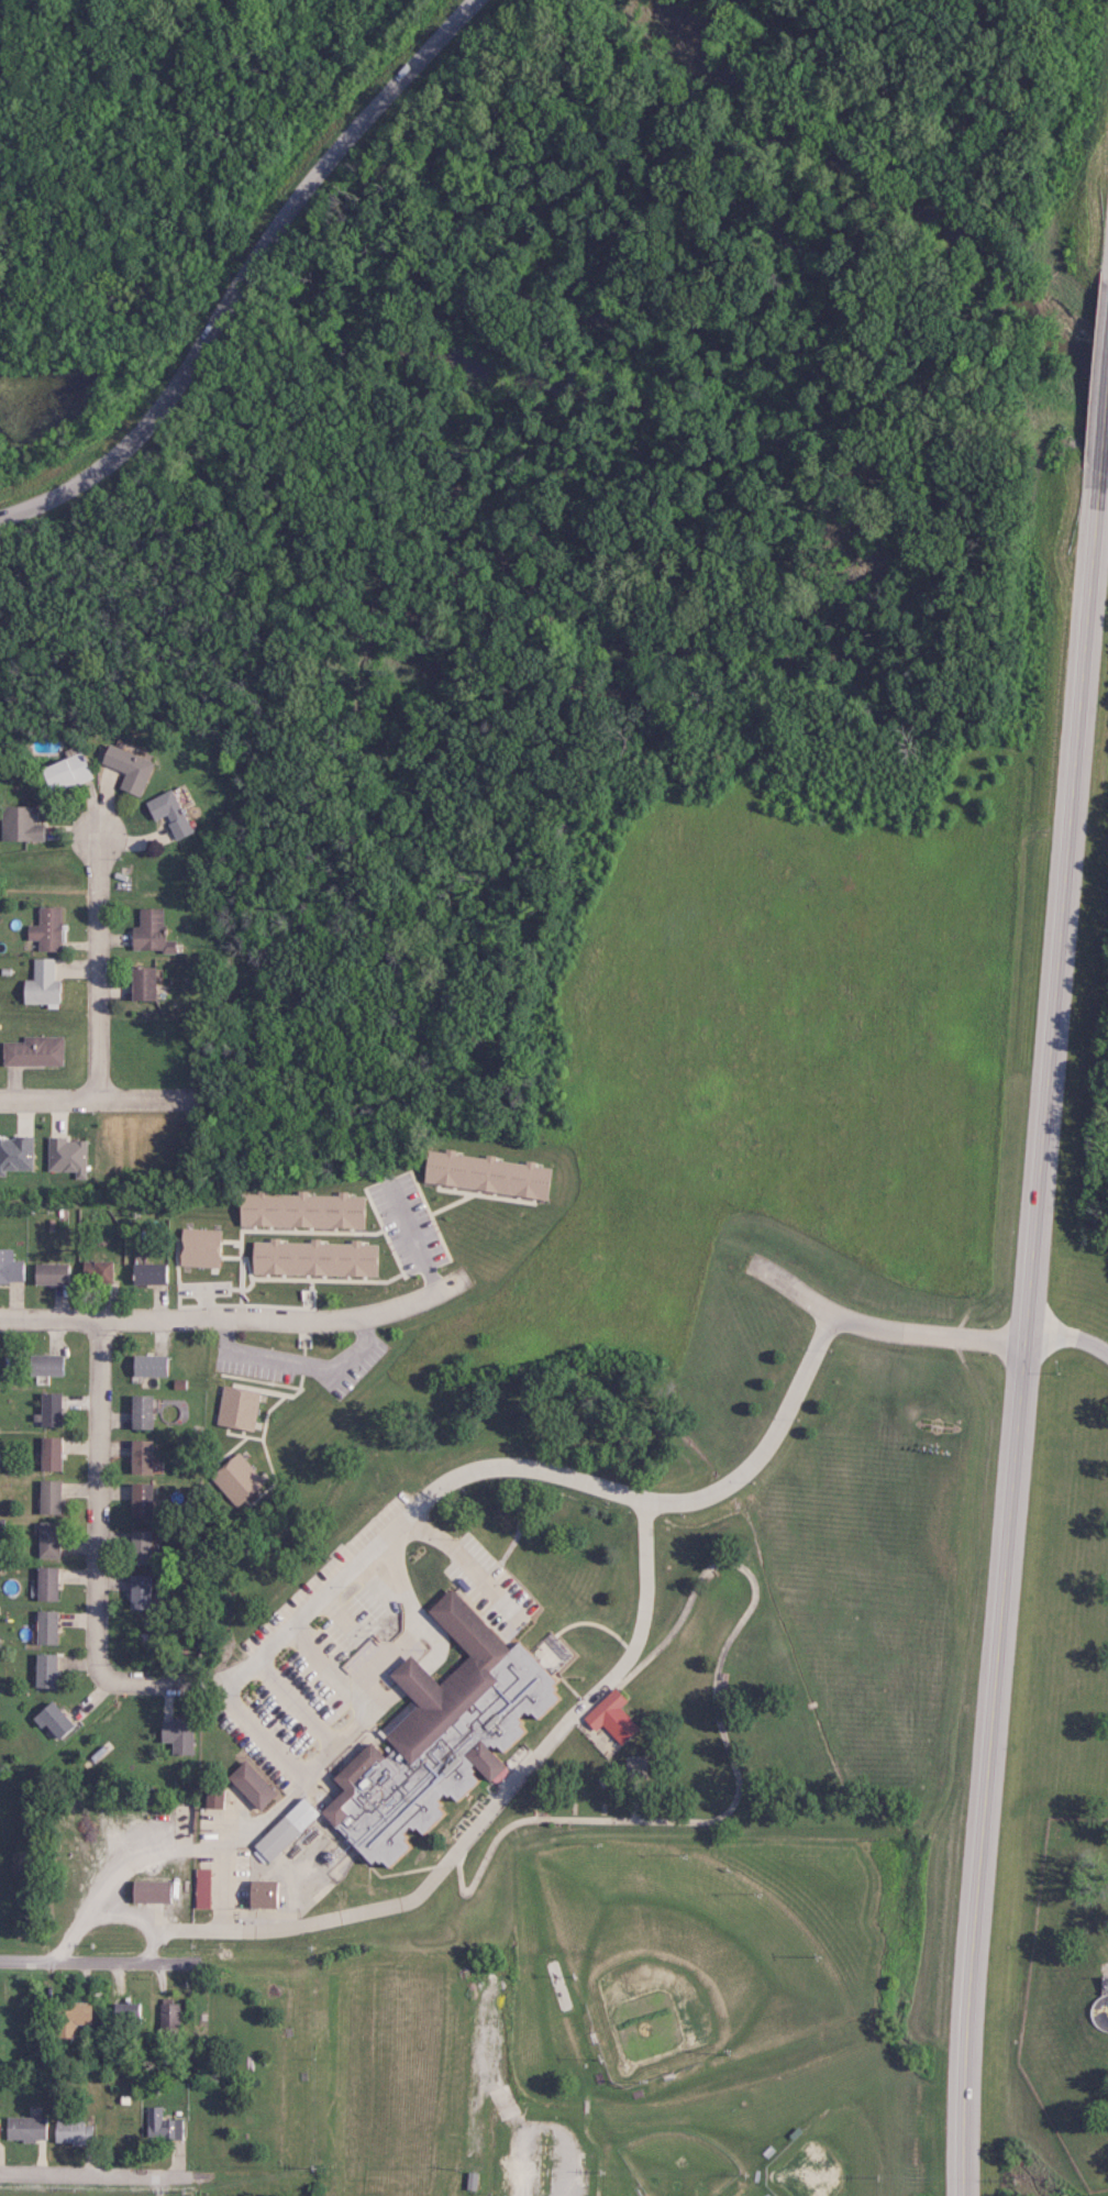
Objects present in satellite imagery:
road: (228, 268)
building: (128, 768)
building: (63, 772)
building: (168, 812)
building: (19, 823)
building: (45, 928)
building: (148, 930)
road: (95, 961)
building: (138, 982)
building: (41, 983)
building: (32, 1050)
road: (99, 1099)
building: (14, 1154)
building: (65, 1155)
building: (483, 1173)
building: (298, 1209)
building: (198, 1247)
building: (310, 1258)
road: (1031, 1258)
building: (10, 1268)
building: (96, 1270)
building: (49, 1273)
building: (145, 1273)
road: (224, 1310)
road: (233, 1322)
road: (883, 1332)
road: (1067, 1339)
building: (44, 1365)
building: (148, 1365)
building: (236, 1408)
building: (47, 1409)
building: (136, 1412)
building: (47, 1453)
building: (137, 1457)
road: (533, 1467)
building: (235, 1478)
road: (98, 1490)
building: (47, 1497)
building: (138, 1499)
building: (45, 1540)
building: (137, 1546)
road: (464, 1558)
building: (44, 1583)
building: (136, 1592)
road: (590, 1622)
building: (43, 1627)
building: (42, 1670)
road: (409, 1678)
road: (126, 1688)
building: (609, 1717)
building: (49, 1720)
building: (175, 1735)
building: (435, 1736)
road: (624, 1759)
wastewater plant: (1065, 1781)
building: (247, 1785)
building: (211, 1799)
road: (284, 1799)
road: (682, 1818)
road: (477, 1823)
building: (282, 1829)
building: (201, 1888)
building: (149, 1891)
building: (261, 1894)
road: (90, 1961)
park: (680, 1961)
building: (125, 2015)
building: (167, 2017)
building: (68, 2018)
park: (633, 2027)
building: (0, 2122)
building: (164, 2123)
building: (27, 2128)
building: (73, 2131)
road: (591, 2138)
park: (827, 2154)
park: (678, 2158)
parking lot: (533, 2162)
road: (517, 2170)
road: (103, 2176)
road: (729, 2192)

